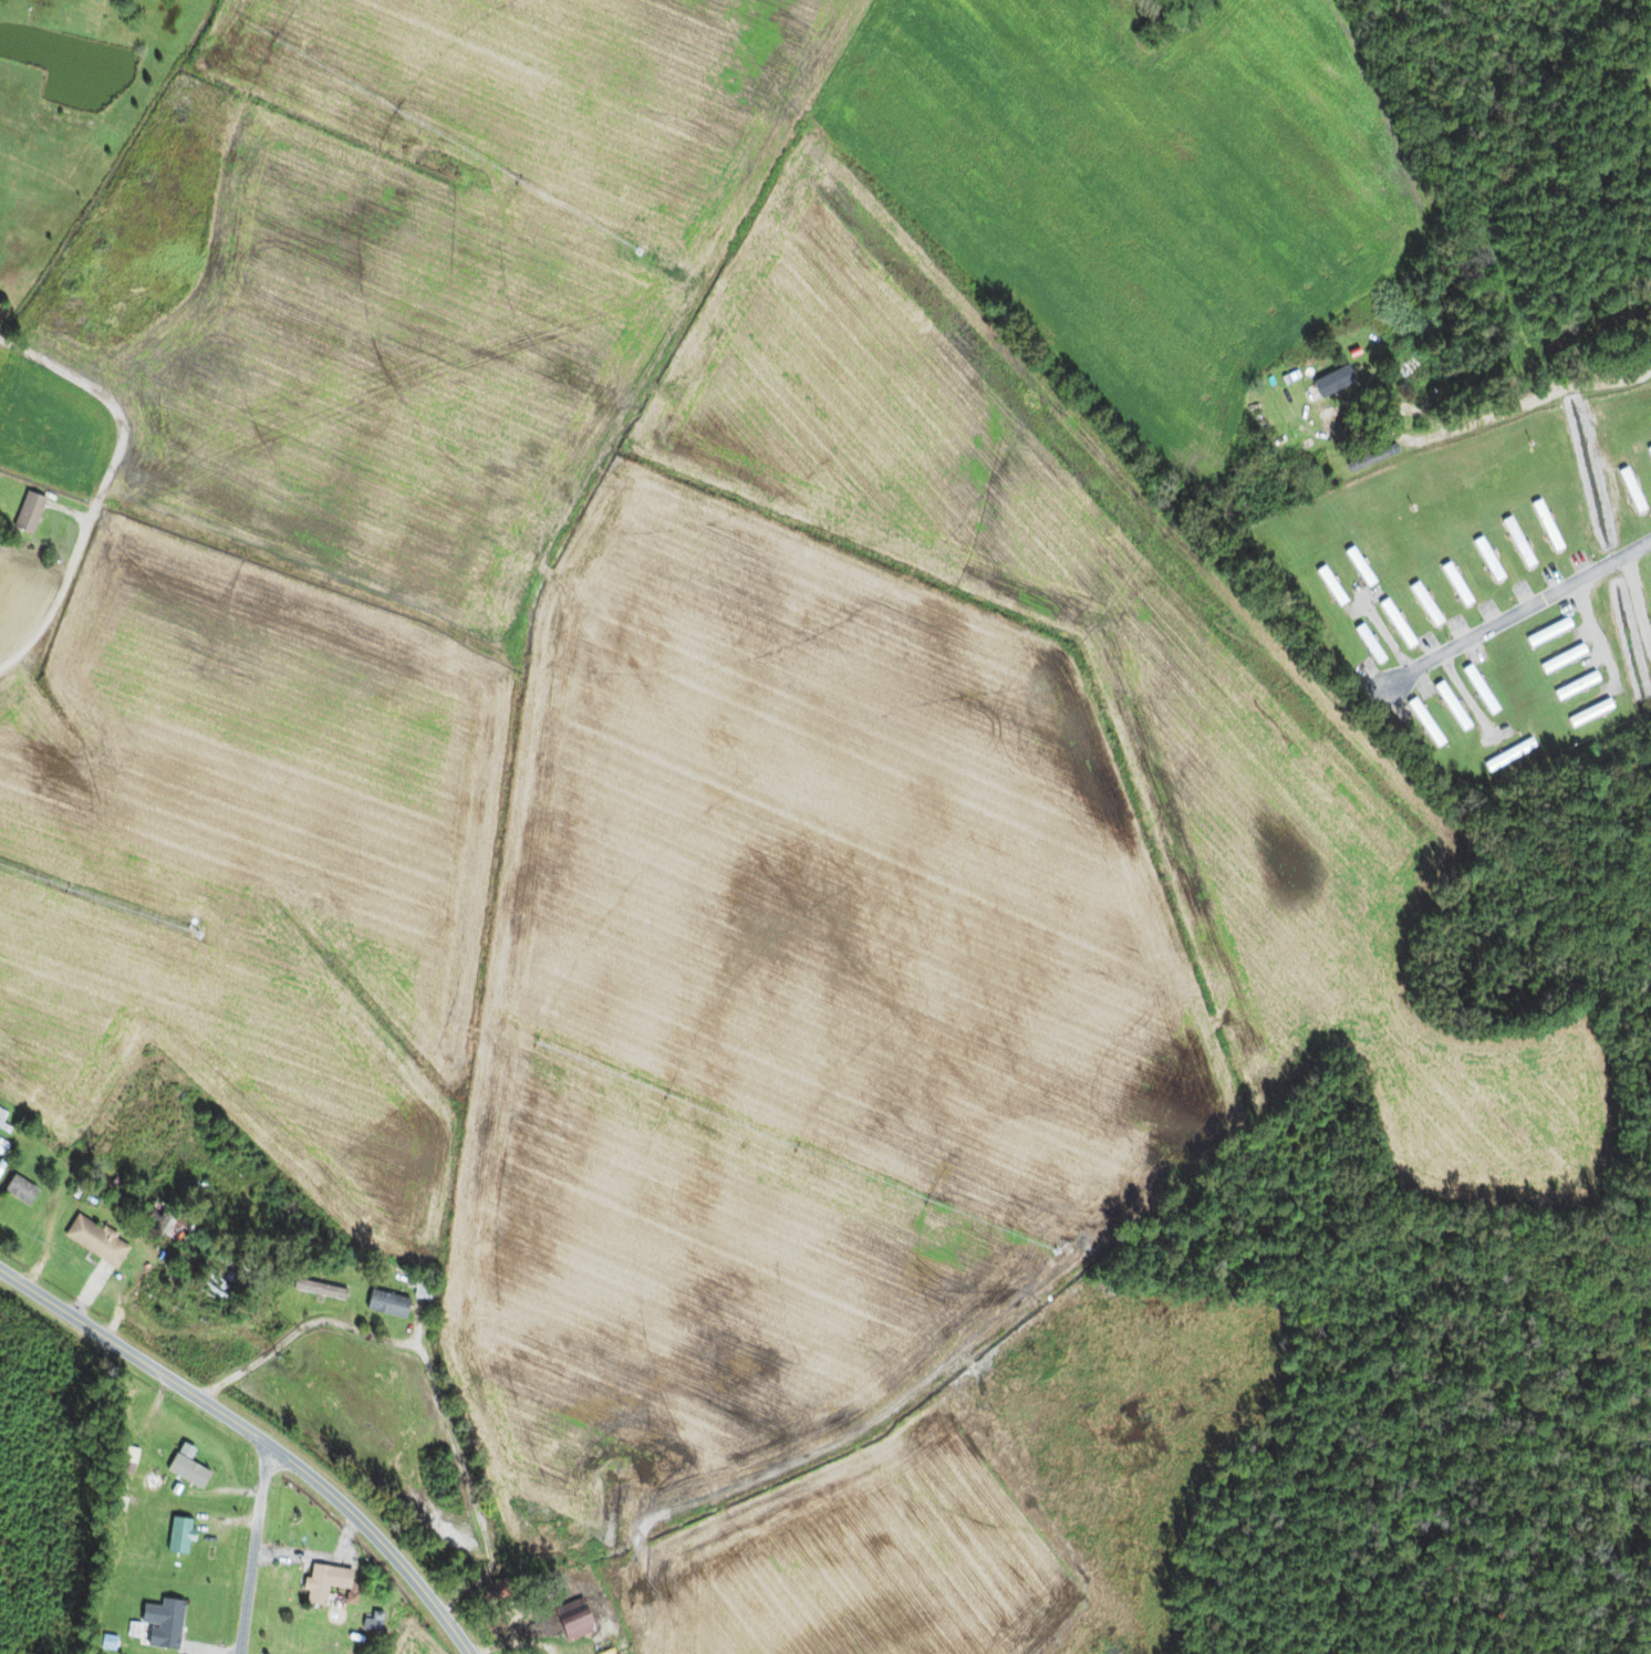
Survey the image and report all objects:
building: (1361, 377)
building: (1297, 399)
building: (1649, 451)
building: (1630, 489)
road: (665, 497)
building: (27, 512)
building: (1545, 526)
building: (1486, 558)
building: (1454, 584)
building: (1329, 585)
building: (1423, 603)
road: (1518, 612)
building: (1394, 623)
building: (1547, 632)
building: (1368, 643)
building: (1560, 658)
building: (1575, 685)
building: (1478, 688)
building: (1450, 705)
building: (1588, 711)
building: (1423, 720)
building: (1508, 755)
building: (1, 1117)
building: (19, 1189)
building: (183, 1234)
building: (94, 1240)
building: (215, 1276)
building: (385, 1303)
road: (256, 1433)
building: (129, 1456)
building: (186, 1465)
building: (177, 1536)
road: (255, 1548)
road: (320, 1554)
building: (549, 1561)
building: (322, 1582)
building: (160, 1624)
building: (573, 1625)

